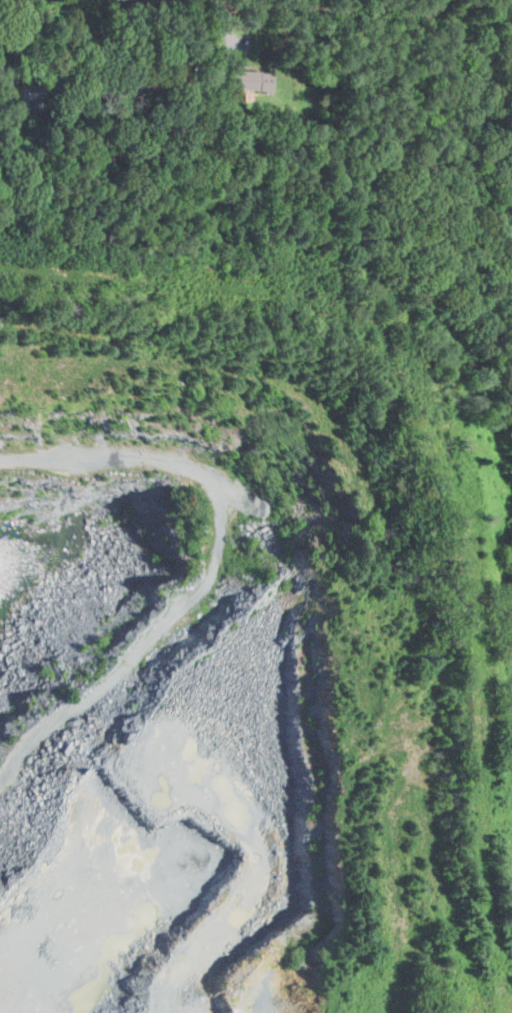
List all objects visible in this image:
road: (312, 7)
road: (5, 41)
building: (248, 81)
quarry: (253, 582)

